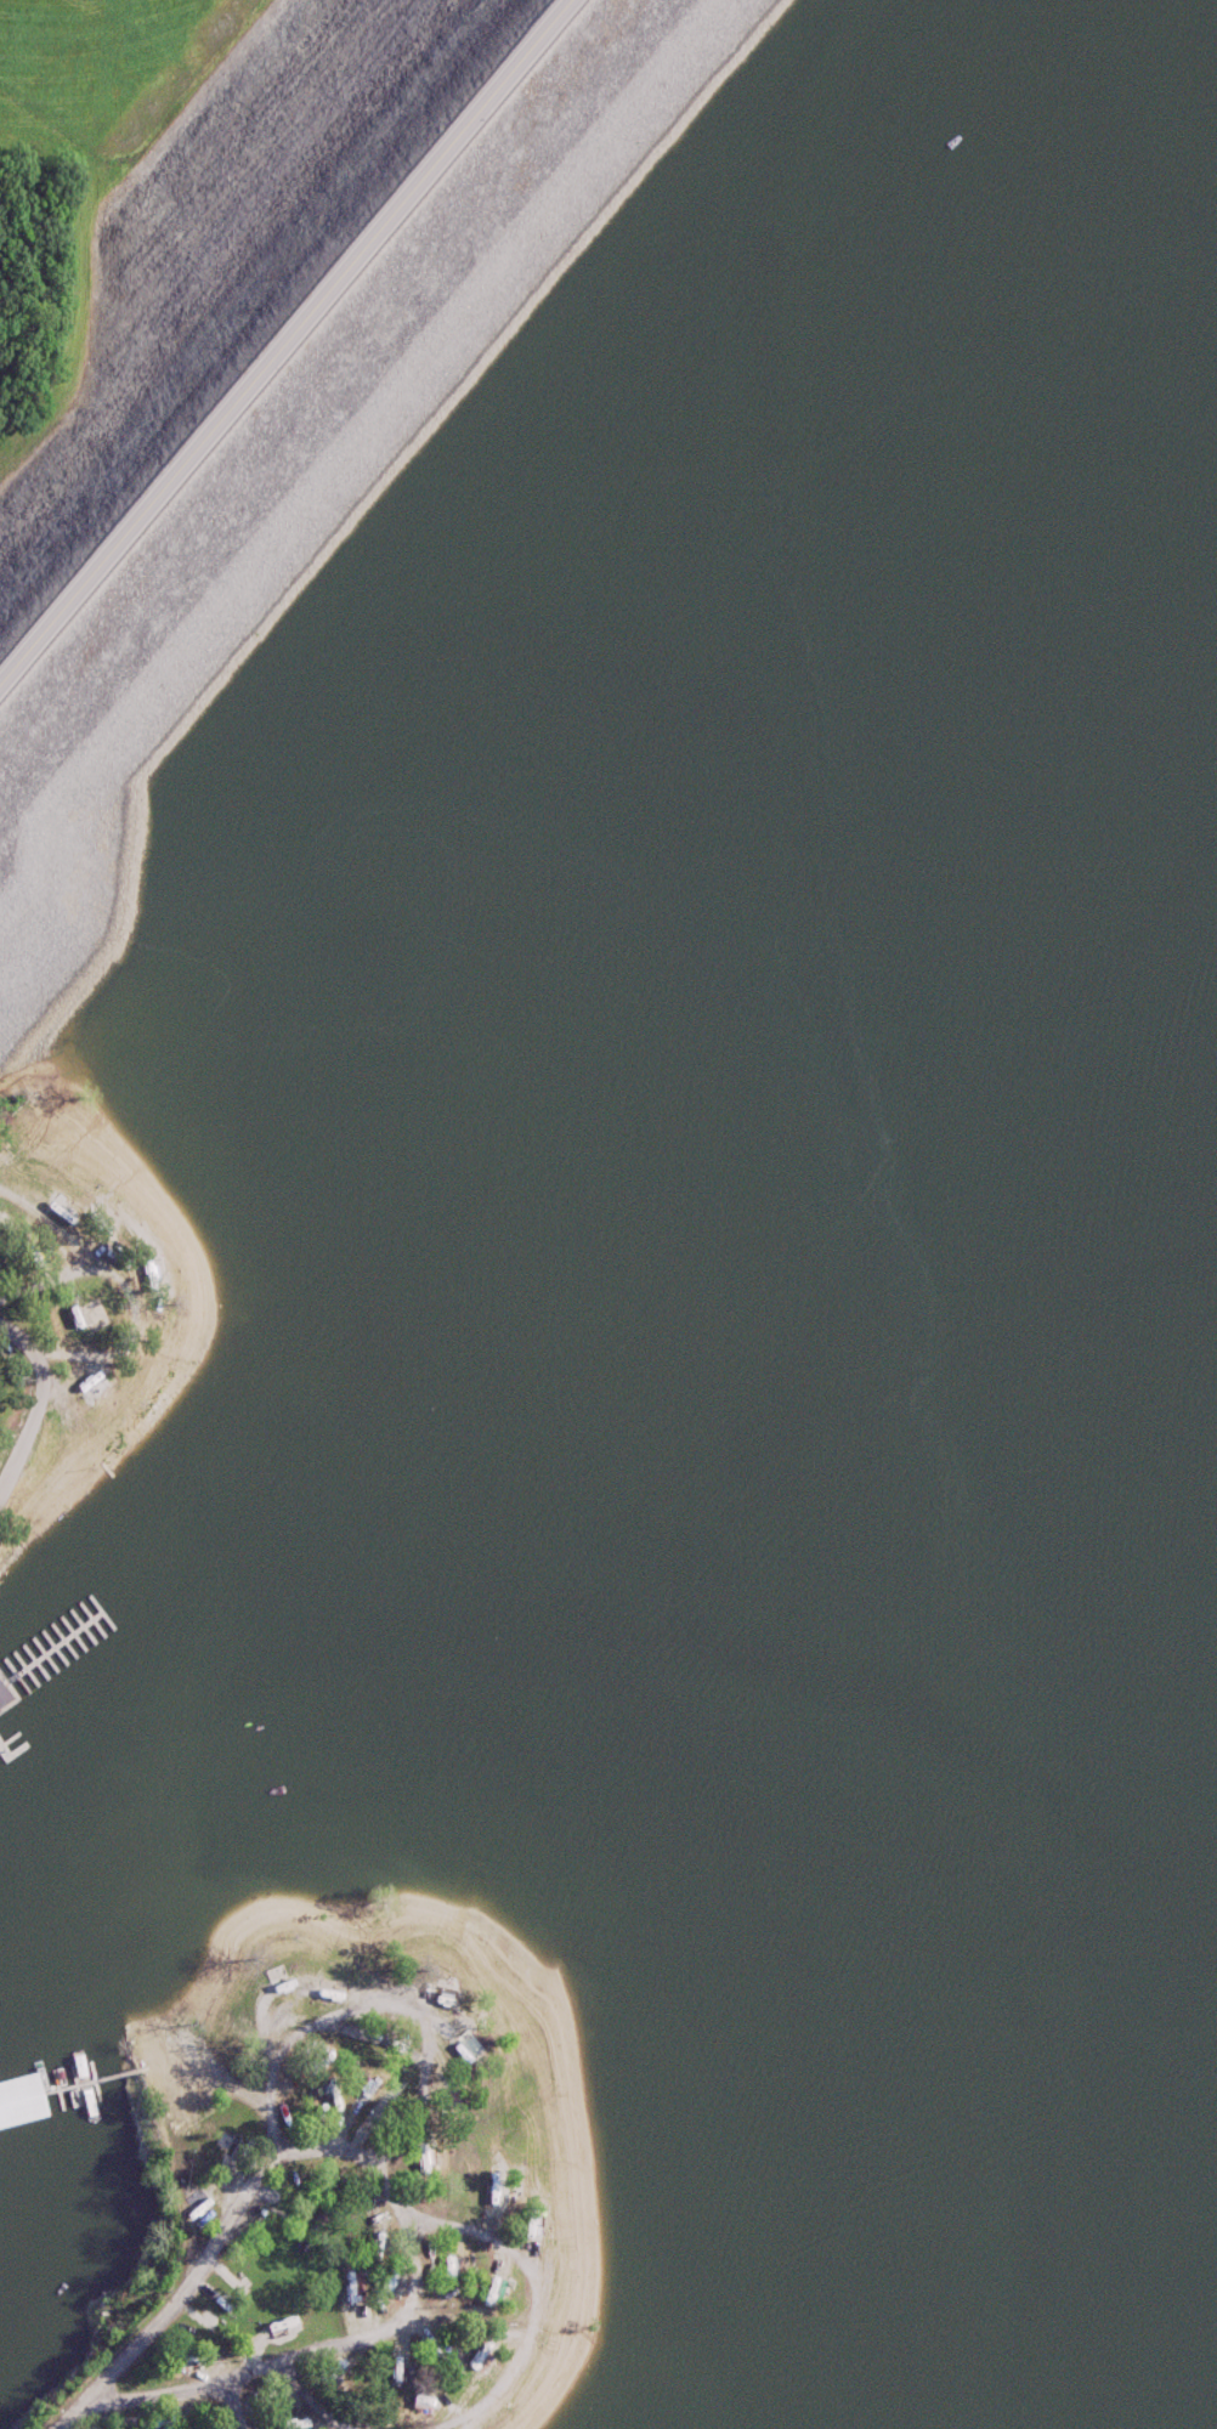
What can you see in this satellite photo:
dam: (214, 251)
road: (295, 358)
building: (77, 1324)
road: (39, 1394)
building: (441, 2003)
building: (464, 2050)
building: (441, 2105)
building: (21, 2110)
building: (375, 2116)
road: (352, 2150)
building: (491, 2193)
building: (526, 2225)
building: (493, 2293)
road: (296, 2356)
building: (397, 2380)
road: (310, 2400)
road: (236, 2403)

